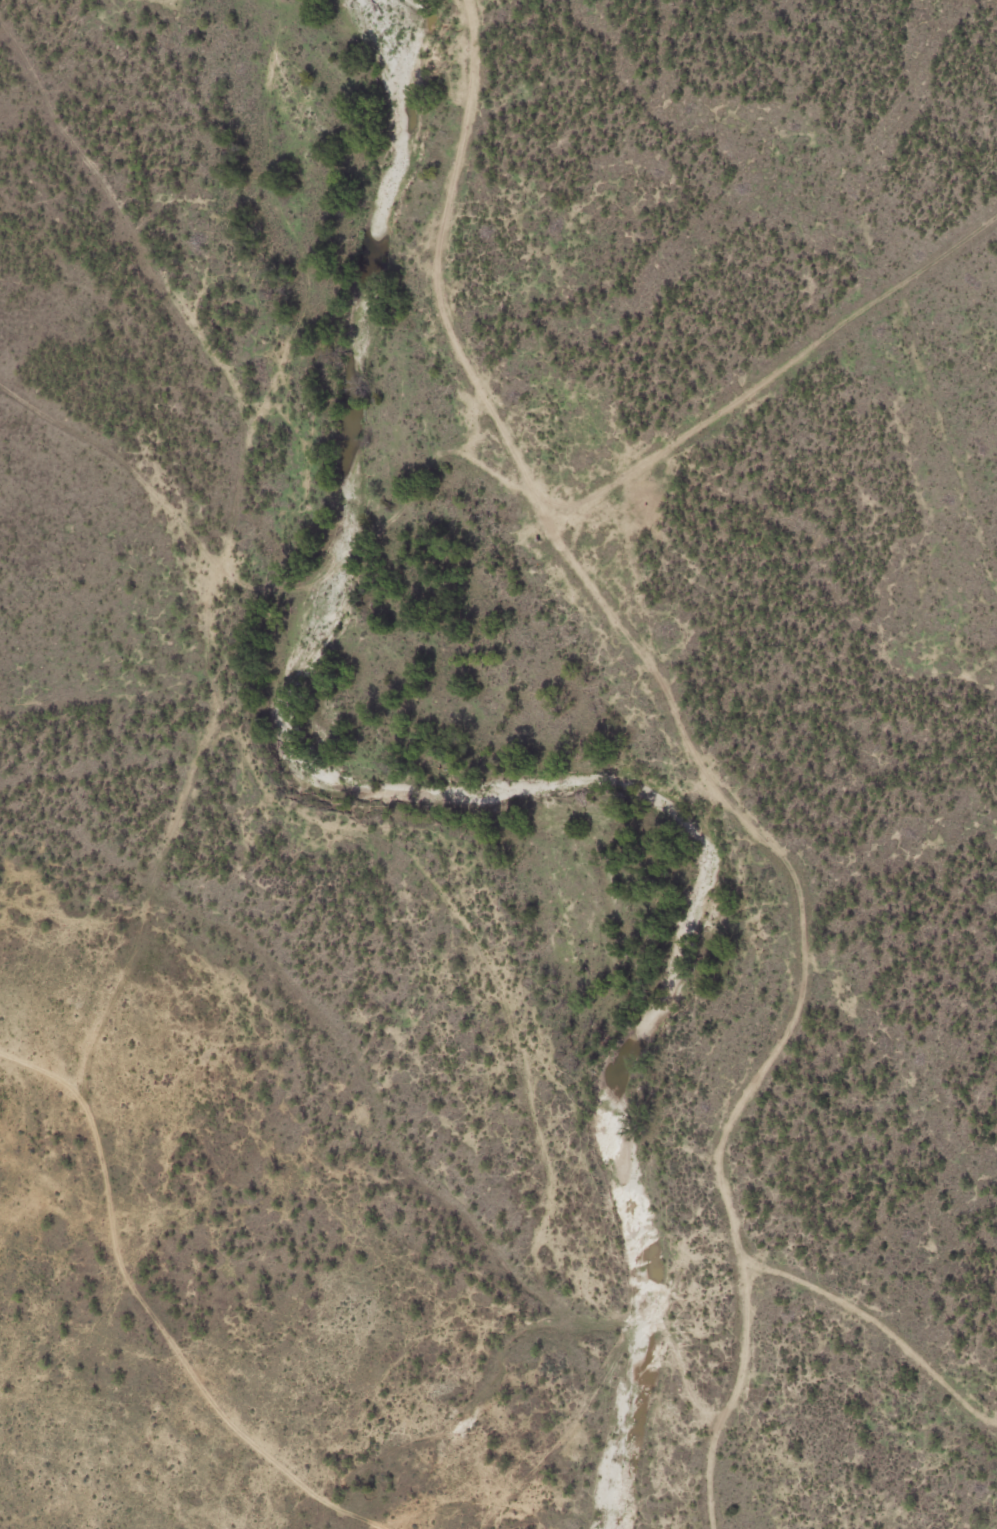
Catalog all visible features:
road: (769, 376)
road: (373, 532)
road: (213, 698)
road: (674, 708)
river: (452, 802)
road: (881, 1327)
road: (365, 1518)
road: (381, 1526)

